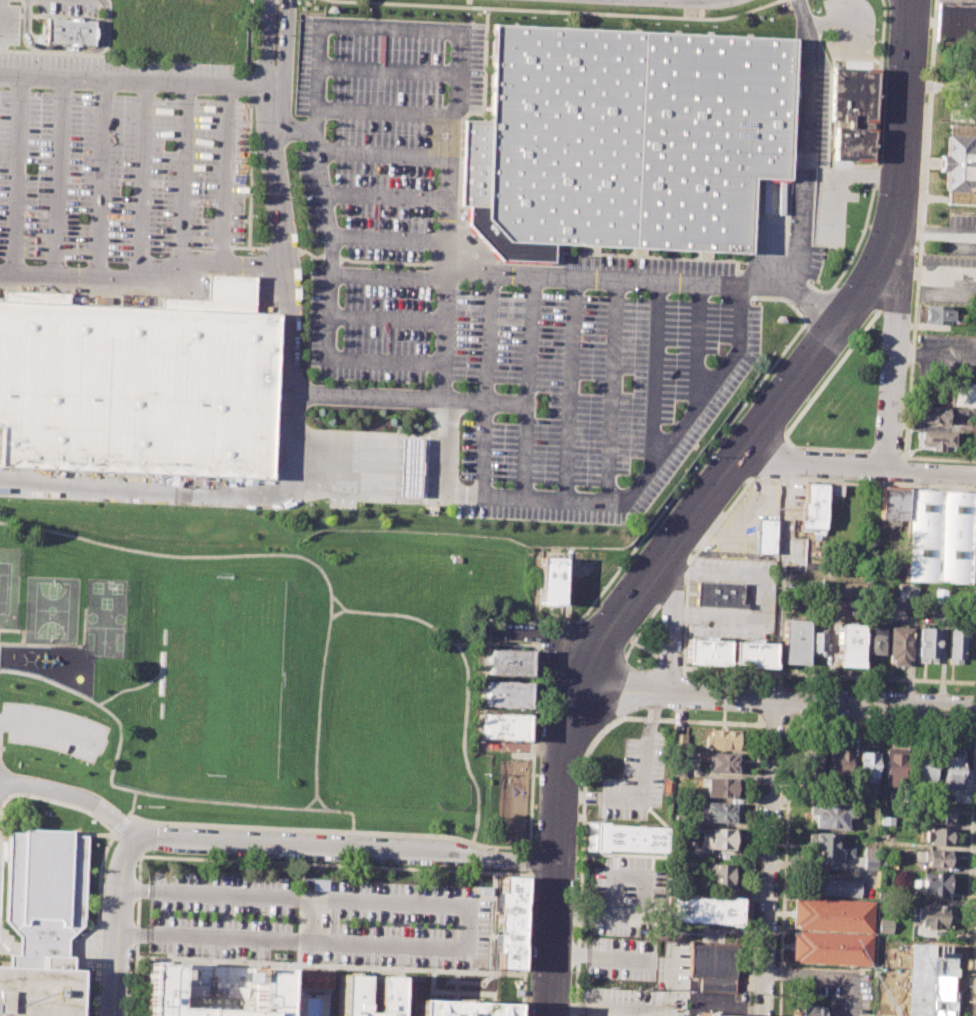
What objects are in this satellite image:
road: (25, 0)
street lamp: (497, 0)
street lamp: (305, 1)
road: (101, 3)
street lamp: (779, 5)
street lamp: (338, 7)
street lamp: (365, 8)
street lamp: (623, 8)
road: (558, 11)
street lamp: (429, 12)
street lamp: (464, 13)
street lamp: (705, 13)
street lamp: (529, 17)
road: (900, 17)
street lamp: (560, 18)
street lamp: (294, 19)
building: (955, 22)
street lamp: (653, 23)
street lamp: (686, 24)
parking lot: (8, 25)
street lamp: (712, 25)
road: (392, 29)
building: (70, 31)
road: (248, 40)
road: (265, 42)
road: (284, 42)
road: (62, 48)
street lamp: (446, 51)
street lamp: (883, 65)
parking lot: (957, 65)
street lamp: (928, 68)
road: (387, 70)
road: (136, 76)
street lamp: (291, 90)
building: (853, 97)
road: (428, 112)
building: (631, 136)
road: (804, 144)
building: (850, 146)
road: (874, 149)
road: (379, 153)
building: (958, 164)
road: (18, 171)
road: (58, 172)
parking lot: (120, 173)
road: (99, 174)
road: (142, 175)
road: (183, 177)
road: (225, 178)
street lamp: (815, 187)
street lamp: (873, 194)
road: (381, 196)
road: (936, 197)
street lamp: (813, 222)
street lamp: (845, 225)
street lamp: (858, 230)
road: (932, 232)
parking lot: (960, 233)
road: (340, 236)
street lamp: (913, 244)
street lamp: (823, 250)
street lamp: (847, 257)
street lamp: (913, 260)
road: (917, 264)
road: (143, 274)
road: (388, 276)
road: (613, 277)
parking lot: (947, 279)
street lamp: (837, 285)
street lamp: (508, 287)
parking lot: (511, 288)
road: (795, 289)
street lamp: (592, 292)
street lamp: (676, 296)
street lamp: (715, 298)
street lamp: (773, 302)
road: (817, 307)
street lamp: (870, 312)
building: (937, 314)
road: (385, 318)
street lamp: (798, 324)
road: (444, 326)
road: (483, 336)
road: (526, 339)
road: (695, 342)
street lamp: (783, 345)
road: (934, 354)
road: (812, 356)
parking lot: (947, 356)
road: (323, 357)
road: (892, 359)
road: (652, 369)
street lamp: (768, 377)
street lamp: (754, 384)
building: (138, 387)
road: (563, 387)
road: (607, 389)
building: (962, 394)
road: (365, 397)
street lamp: (804, 400)
street lamp: (739, 403)
road: (522, 411)
building: (932, 414)
street lamp: (722, 424)
road: (288, 432)
road: (364, 437)
building: (935, 440)
road: (714, 443)
road: (364, 448)
road: (440, 448)
road: (478, 450)
road: (652, 454)
street lamp: (709, 455)
road: (363, 460)
road: (858, 466)
building: (405, 467)
street lamp: (692, 467)
road: (363, 469)
street lamp: (757, 479)
road: (362, 481)
street lamp: (662, 482)
road: (863, 483)
street lamp: (743, 484)
street lamp: (676, 486)
building: (834, 489)
road: (362, 491)
road: (457, 495)
road: (721, 499)
building: (894, 503)
building: (813, 505)
street lamp: (661, 507)
street lamp: (653, 528)
building: (766, 535)
building: (940, 536)
street lamp: (630, 548)
street lamp: (691, 552)
road: (274, 554)
road: (689, 563)
street lamp: (616, 566)
building: (973, 567)
road: (781, 579)
building: (551, 580)
street lamp: (602, 586)
park: (3, 587)
street lamp: (684, 587)
building: (720, 594)
road: (758, 597)
road: (337, 602)
park: (50, 610)
street lamp: (592, 610)
road: (337, 614)
road: (672, 614)
road: (16, 631)
road: (603, 631)
road: (559, 633)
street lamp: (632, 637)
road: (541, 638)
building: (874, 638)
building: (796, 641)
building: (956, 642)
building: (819, 643)
road: (540, 644)
building: (849, 644)
building: (900, 644)
building: (927, 644)
road: (60, 645)
road: (625, 647)
road: (644, 648)
building: (706, 651)
street lamp: (541, 652)
building: (753, 653)
building: (508, 662)
road: (669, 662)
street lamp: (636, 665)
park: (223, 673)
road: (828, 673)
road: (466, 683)
road: (126, 689)
road: (613, 690)
building: (506, 694)
road: (776, 698)
street lamp: (629, 713)
street lamp: (539, 719)
road: (679, 720)
road: (762, 724)
road: (774, 724)
road: (787, 724)
building: (503, 726)
road: (48, 727)
parking lot: (52, 728)
road: (603, 728)
building: (723, 739)
building: (679, 742)
street lamp: (590, 744)
park: (401, 755)
building: (725, 762)
building: (811, 763)
building: (838, 764)
building: (895, 765)
building: (867, 766)
building: (924, 767)
building: (679, 768)
building: (951, 769)
parking lot: (637, 776)
road: (787, 777)
street lamp: (580, 784)
building: (866, 785)
building: (723, 787)
road: (143, 792)
road: (74, 797)
road: (132, 802)
road: (310, 802)
road: (321, 802)
building: (722, 812)
building: (941, 814)
road: (127, 816)
building: (831, 817)
building: (886, 819)
road: (120, 825)
road: (116, 835)
building: (939, 836)
road: (559, 837)
building: (626, 838)
building: (719, 839)
road: (470, 841)
road: (108, 843)
road: (129, 847)
building: (826, 847)
road: (529, 850)
road: (346, 851)
road: (769, 857)
building: (937, 858)
road: (255, 861)
road: (529, 862)
building: (870, 865)
parking lot: (4, 868)
street lamp: (520, 870)
road: (968, 875)
street lamp: (578, 876)
building: (722, 876)
building: (935, 884)
building: (832, 887)
parking lot: (628, 896)
street lamp: (778, 906)
building: (704, 910)
building: (833, 914)
building: (933, 916)
road: (620, 918)
road: (310, 919)
parking lot: (318, 921)
building: (43, 922)
road: (493, 922)
building: (512, 922)
building: (884, 925)
road: (117, 926)
road: (467, 926)
road: (526, 943)
building: (831, 947)
road: (602, 955)
parking lot: (621, 958)
road: (330, 965)
building: (713, 967)
street lamp: (573, 972)
road: (826, 976)
building: (315, 978)
street lamp: (519, 979)
parking lot: (921, 980)
parking lot: (648, 989)
parking lot: (836, 989)
building: (215, 990)
road: (916, 992)
building: (350, 994)
street lamp: (774, 994)
building: (459, 1008)
road: (640, 1009)
building: (807, 1010)
building: (710, 1015)

